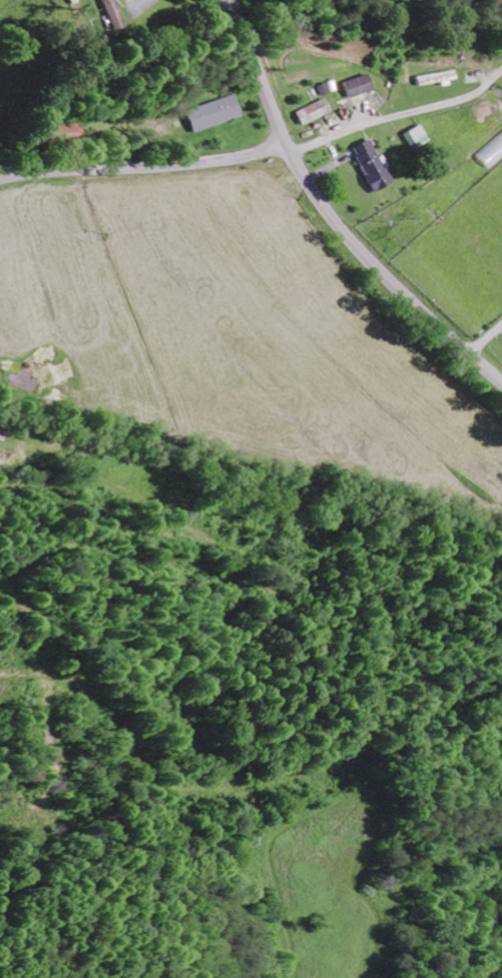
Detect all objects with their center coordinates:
building: (106, 13)
building: (447, 76)
building: (357, 86)
road: (433, 107)
building: (311, 112)
building: (213, 113)
building: (415, 137)
building: (370, 165)
road: (145, 171)
road: (332, 215)
road: (486, 339)

